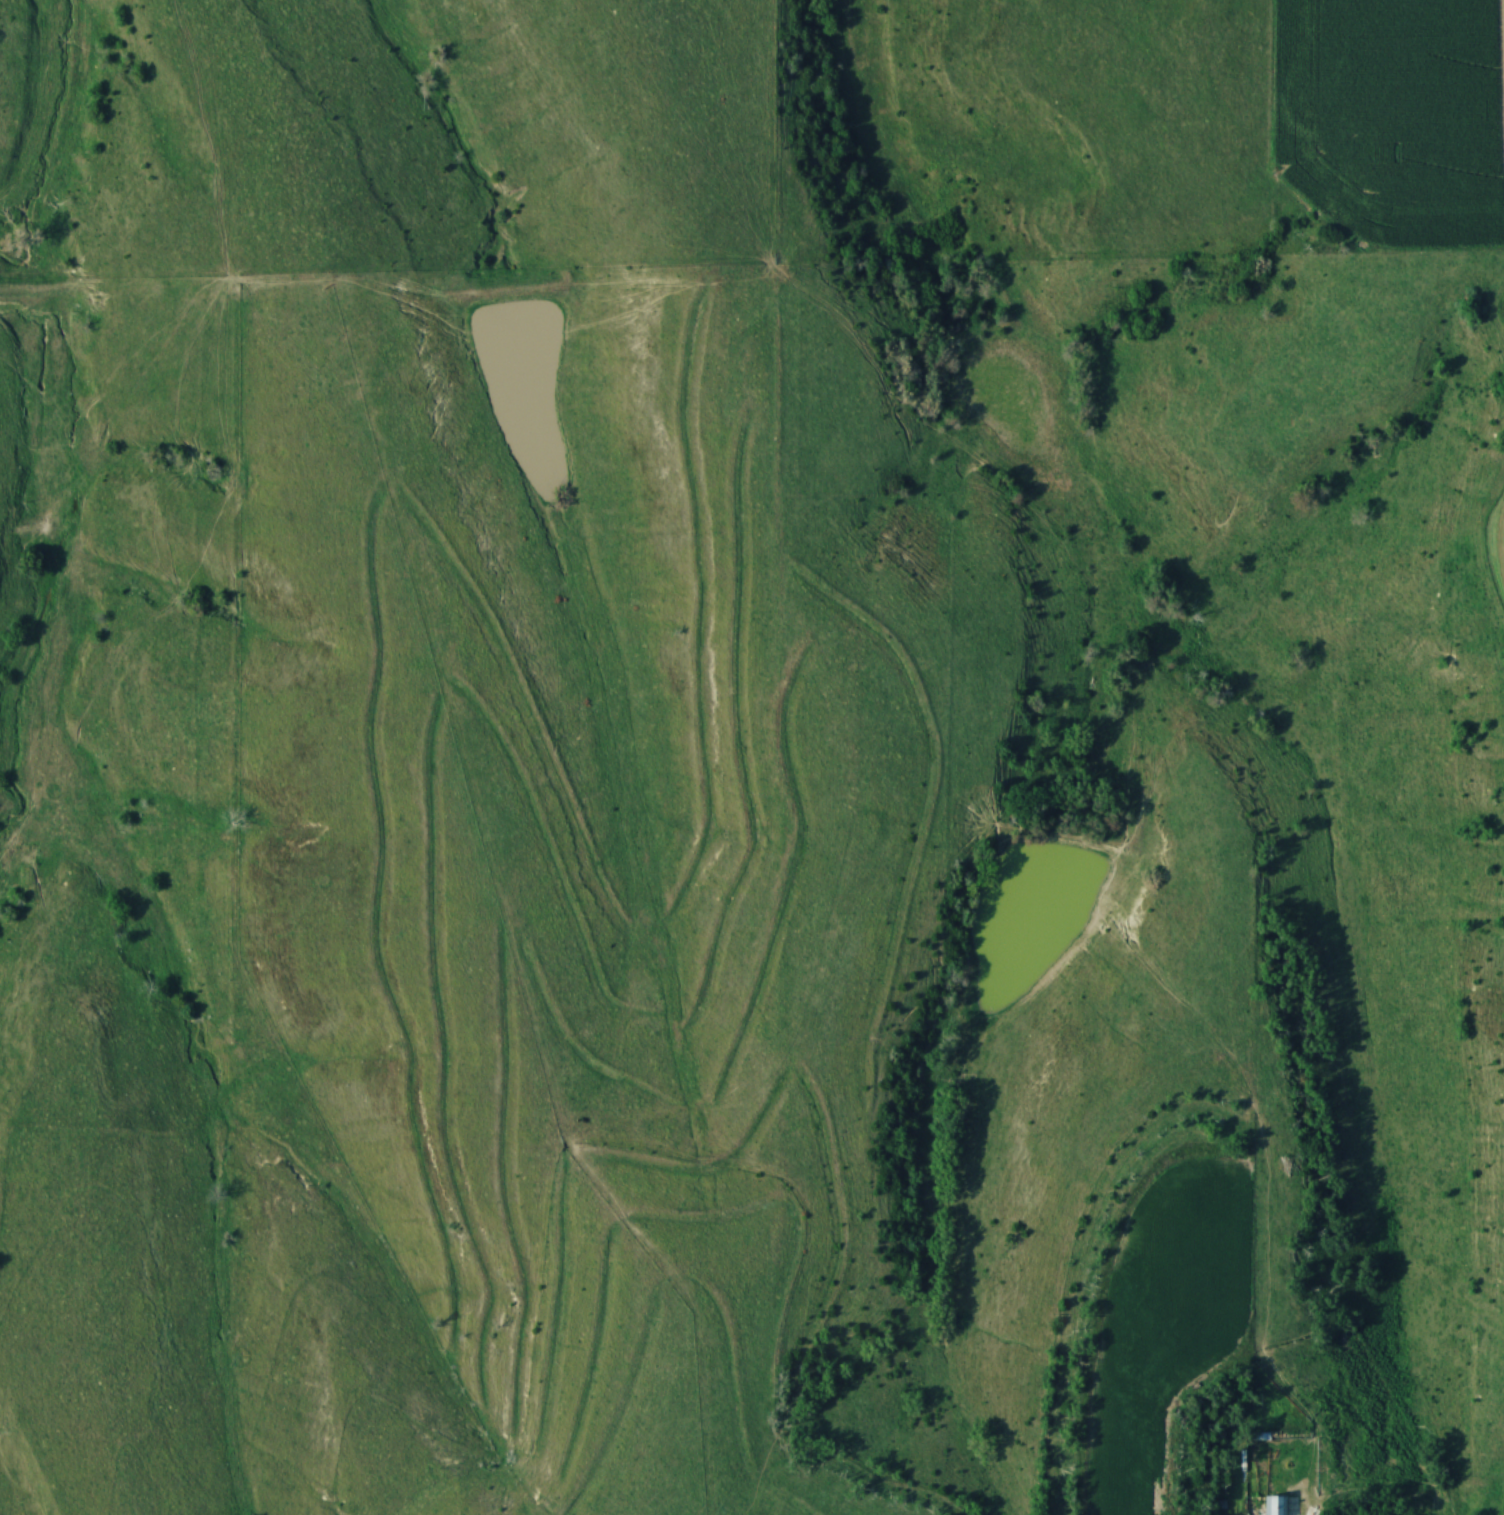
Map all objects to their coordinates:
building: (1275, 1505)

